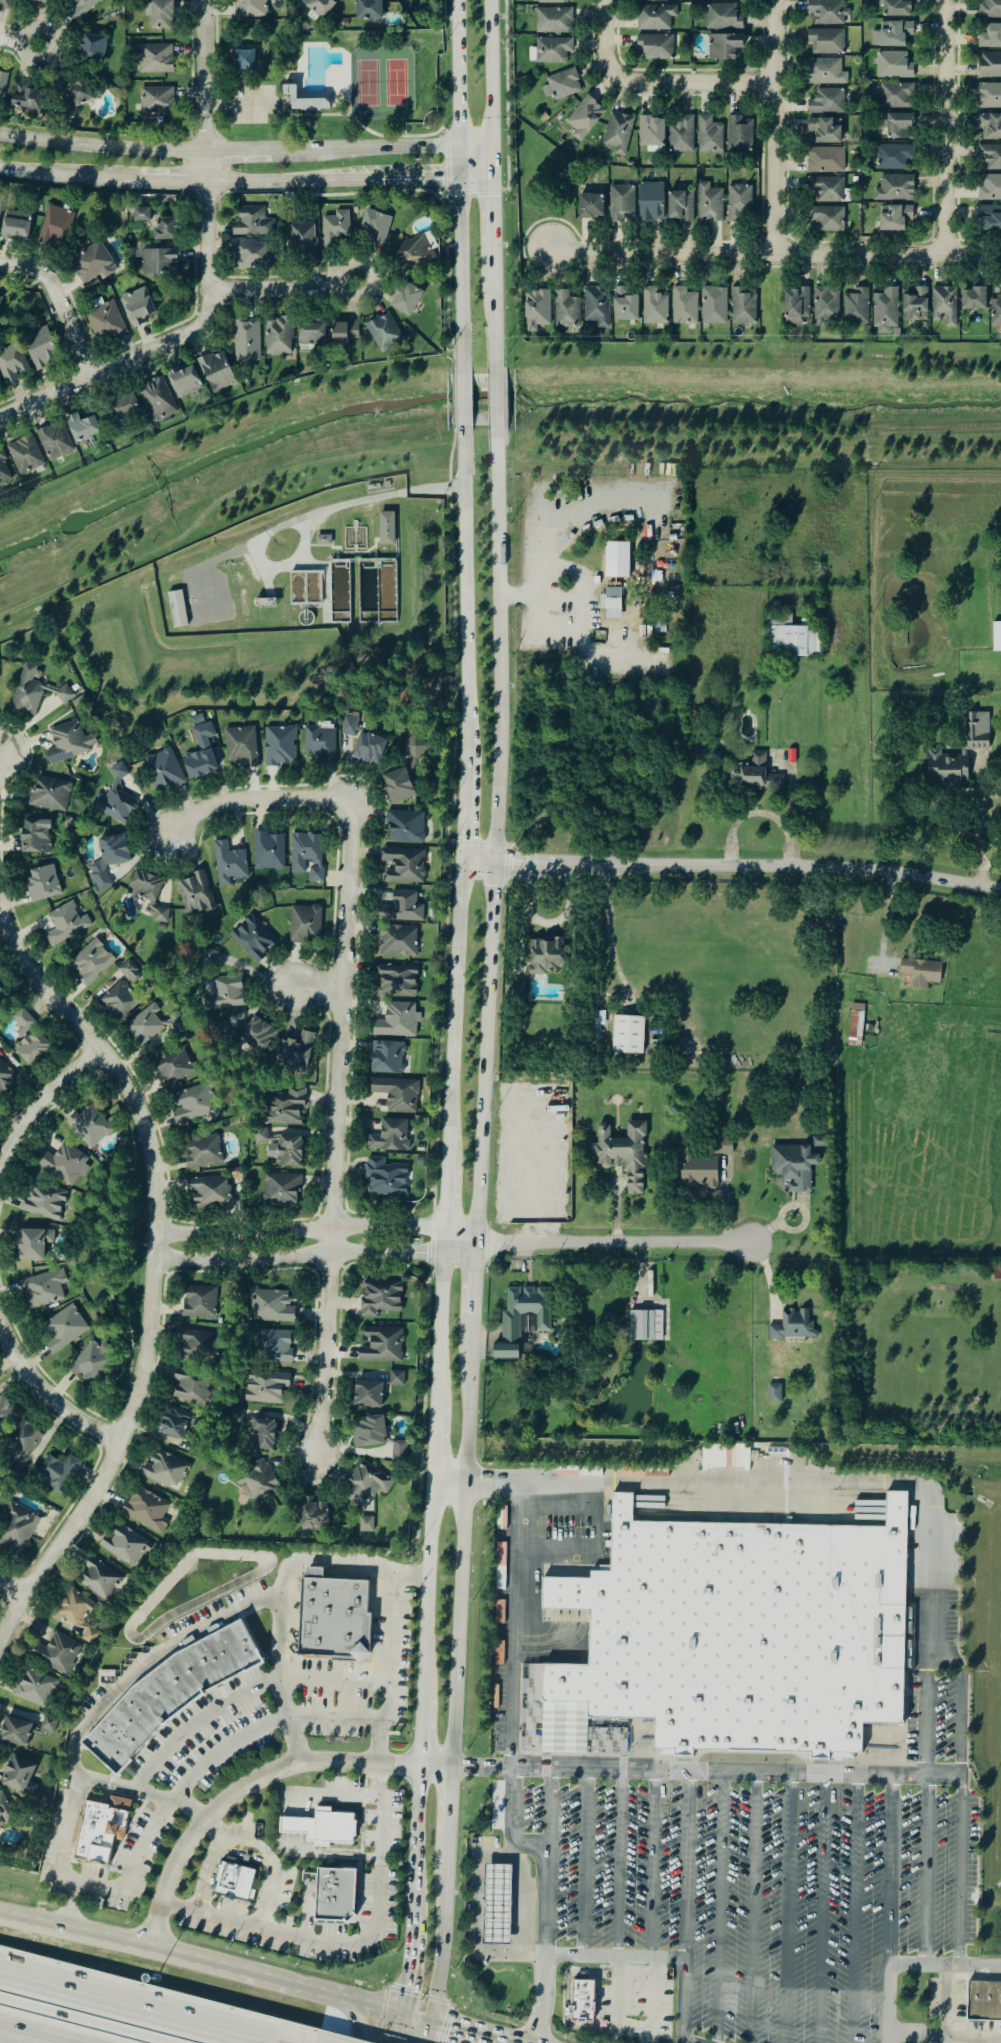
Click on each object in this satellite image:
building: (655, 0)
building: (37, 1)
building: (554, 1)
building: (5, 4)
building: (320, 6)
building: (79, 8)
building: (250, 8)
building: (897, 8)
building: (368, 9)
building: (990, 9)
building: (829, 11)
building: (161, 14)
building: (656, 17)
building: (724, 17)
building: (554, 20)
building: (893, 33)
building: (686, 36)
building: (991, 36)
road: (19, 41)
building: (827, 41)
building: (724, 45)
building: (657, 46)
building: (92, 47)
building: (553, 50)
building: (156, 58)
building: (244, 59)
building: (894, 65)
building: (990, 65)
road: (489, 70)
road: (455, 71)
building: (826, 71)
road: (654, 83)
building: (3, 84)
building: (562, 84)
building: (78, 94)
building: (897, 95)
building: (990, 96)
building: (27, 98)
building: (157, 101)
building: (827, 101)
building: (310, 104)
building: (585, 117)
road: (772, 125)
building: (896, 126)
road: (942, 126)
building: (991, 126)
building: (827, 130)
building: (619, 132)
building: (652, 133)
building: (740, 134)
building: (682, 135)
building: (710, 136)
road: (474, 141)
traffic signals: (491, 141)
traffic signals: (457, 142)
road: (102, 146)
road: (204, 146)
road: (362, 146)
road: (237, 151)
building: (894, 156)
building: (991, 156)
road: (491, 158)
building: (826, 160)
road: (69, 175)
road: (474, 175)
traffic signals: (491, 175)
road: (416, 176)
traffic signals: (457, 176)
road: (289, 179)
road: (170, 182)
building: (990, 187)
building: (895, 188)
building: (827, 190)
building: (0, 201)
building: (651, 201)
building: (622, 203)
building: (710, 203)
building: (740, 203)
building: (591, 205)
building: (680, 206)
building: (142, 214)
road: (493, 214)
building: (895, 217)
building: (990, 218)
building: (829, 219)
building: (254, 222)
building: (15, 224)
building: (56, 226)
building: (336, 226)
building: (376, 226)
building: (164, 229)
building: (304, 238)
building: (414, 252)
road: (776, 252)
building: (253, 253)
road: (459, 257)
building: (159, 261)
building: (93, 263)
road: (280, 290)
building: (407, 298)
building: (974, 298)
building: (1, 301)
road: (66, 302)
building: (625, 304)
building: (916, 304)
building: (714, 305)
building: (797, 305)
building: (826, 305)
building: (945, 305)
building: (138, 306)
building: (597, 306)
building: (655, 306)
building: (684, 306)
building: (743, 306)
building: (857, 307)
building: (537, 309)
building: (566, 309)
building: (886, 311)
building: (996, 312)
road: (495, 313)
building: (104, 323)
building: (382, 333)
building: (309, 334)
building: (344, 334)
building: (277, 337)
building: (245, 342)
building: (40, 349)
building: (11, 365)
road: (119, 368)
building: (214, 372)
building: (183, 382)
road: (497, 398)
road: (464, 399)
building: (155, 401)
building: (122, 408)
building: (81, 428)
building: (53, 442)
building: (24, 456)
building: (4, 472)
road: (335, 507)
road: (561, 509)
building: (386, 528)
building: (324, 540)
building: (619, 559)
road: (541, 594)
road: (465, 598)
building: (610, 599)
building: (178, 609)
building: (789, 638)
building: (996, 638)
building: (26, 691)
building: (64, 694)
building: (201, 732)
building: (976, 742)
building: (68, 743)
building: (318, 743)
building: (240, 746)
building: (278, 746)
building: (413, 747)
building: (367, 751)
road: (0, 752)
building: (198, 764)
building: (944, 770)
building: (162, 771)
building: (117, 772)
building: (753, 776)
building: (396, 786)
building: (49, 794)
road: (257, 805)
building: (113, 806)
road: (460, 817)
building: (404, 827)
road: (492, 833)
road: (978, 836)
building: (34, 837)
building: (267, 852)
building: (306, 856)
building: (107, 858)
building: (228, 864)
building: (402, 866)
road: (730, 866)
building: (41, 883)
building: (146, 894)
building: (193, 894)
building: (402, 908)
road: (610, 918)
road: (891, 920)
building: (67, 921)
building: (304, 925)
building: (252, 939)
building: (397, 942)
building: (545, 956)
building: (90, 965)
building: (131, 972)
building: (919, 973)
building: (395, 980)
building: (221, 994)
road: (319, 994)
building: (1, 996)
building: (118, 1002)
road: (451, 1015)
road: (340, 1017)
building: (395, 1021)
building: (599, 1023)
building: (153, 1025)
building: (854, 1025)
building: (257, 1034)
building: (626, 1036)
building: (27, 1039)
building: (0, 1042)
building: (294, 1054)
building: (386, 1058)
building: (172, 1067)
building: (5, 1078)
building: (396, 1095)
road: (39, 1097)
building: (192, 1105)
building: (282, 1107)
building: (89, 1128)
building: (389, 1136)
building: (817, 1142)
building: (719, 1147)
building: (288, 1152)
building: (200, 1153)
building: (622, 1154)
building: (62, 1163)
building: (791, 1167)
building: (696, 1171)
building: (384, 1179)
building: (280, 1190)
building: (209, 1193)
road: (444, 1198)
building: (43, 1201)
road: (300, 1231)
road: (459, 1235)
road: (442, 1242)
road: (613, 1242)
building: (32, 1244)
road: (458, 1248)
road: (298, 1256)
road: (155, 1268)
road: (474, 1275)
road: (769, 1279)
building: (42, 1292)
building: (379, 1298)
building: (198, 1302)
building: (271, 1307)
building: (521, 1319)
building: (644, 1326)
building: (791, 1326)
building: (63, 1331)
road: (438, 1331)
road: (321, 1340)
building: (196, 1345)
building: (379, 1346)
building: (274, 1347)
building: (88, 1359)
building: (394, 1379)
building: (190, 1387)
building: (264, 1390)
building: (775, 1393)
building: (367, 1394)
road: (48, 1402)
building: (5, 1413)
building: (175, 1423)
building: (368, 1432)
building: (261, 1434)
building: (21, 1439)
road: (433, 1444)
building: (397, 1451)
building: (164, 1469)
building: (55, 1472)
road: (448, 1482)
building: (259, 1483)
road: (840, 1483)
building: (365, 1484)
building: (145, 1510)
building: (309, 1515)
building: (366, 1524)
building: (15, 1530)
road: (461, 1538)
building: (124, 1546)
road: (320, 1558)
building: (98, 1579)
road: (426, 1590)
road: (10, 1592)
building: (77, 1615)
building: (332, 1619)
road: (516, 1625)
building: (740, 1633)
road: (159, 1653)
building: (56, 1654)
road: (390, 1654)
road: (333, 1679)
building: (34, 1689)
building: (169, 1694)
road: (960, 1706)
road: (197, 1722)
building: (47, 1725)
building: (14, 1732)
road: (420, 1733)
road: (434, 1766)
road: (688, 1772)
building: (18, 1778)
road: (238, 1791)
road: (448, 1797)
road: (547, 1806)
building: (3, 1808)
road: (162, 1812)
road: (416, 1818)
road: (291, 1821)
building: (334, 1826)
road: (228, 1827)
building: (299, 1827)
building: (99, 1831)
road: (249, 1840)
road: (959, 1853)
road: (586, 1862)
road: (622, 1863)
road: (652, 1863)
road: (689, 1864)
road: (893, 1869)
road: (926, 1870)
building: (234, 1880)
road: (531, 1884)
road: (544, 1890)
building: (333, 1896)
road: (70, 1905)
road: (520, 1905)
building: (496, 1906)
road: (719, 1908)
road: (754, 1908)
road: (788, 1908)
road: (822, 1909)
road: (858, 1909)
road: (442, 1924)
road: (410, 1941)
road: (353, 1942)
road: (660, 1956)
road: (910, 1962)
road: (201, 1963)
traffic signals: (406, 1985)
building: (583, 2001)
building: (982, 2003)
road: (137, 2006)
road: (351, 2016)
road: (416, 2017)
traffic signals: (451, 2027)
road: (398, 2028)
road: (640, 2028)
road: (47, 2030)
road: (464, 2030)
road: (425, 2032)
road: (941, 2036)
road: (963, 2040)
road: (494, 2041)
road: (506, 2041)

